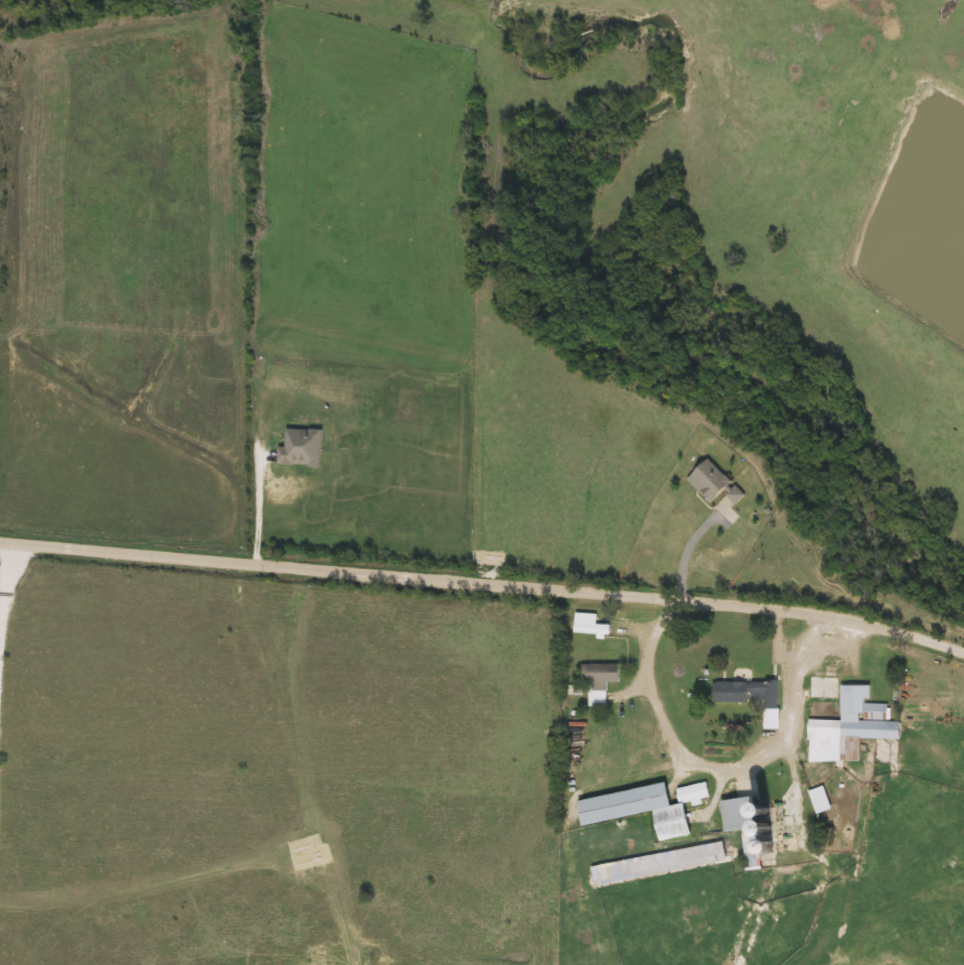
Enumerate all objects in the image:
building: (302, 448)
building: (714, 485)
road: (258, 506)
road: (690, 547)
road: (484, 585)
road: (5, 624)
building: (590, 625)
building: (600, 681)
building: (825, 689)
building: (751, 697)
building: (856, 723)
road: (706, 754)
building: (820, 800)
building: (646, 808)
building: (748, 829)
building: (659, 864)

